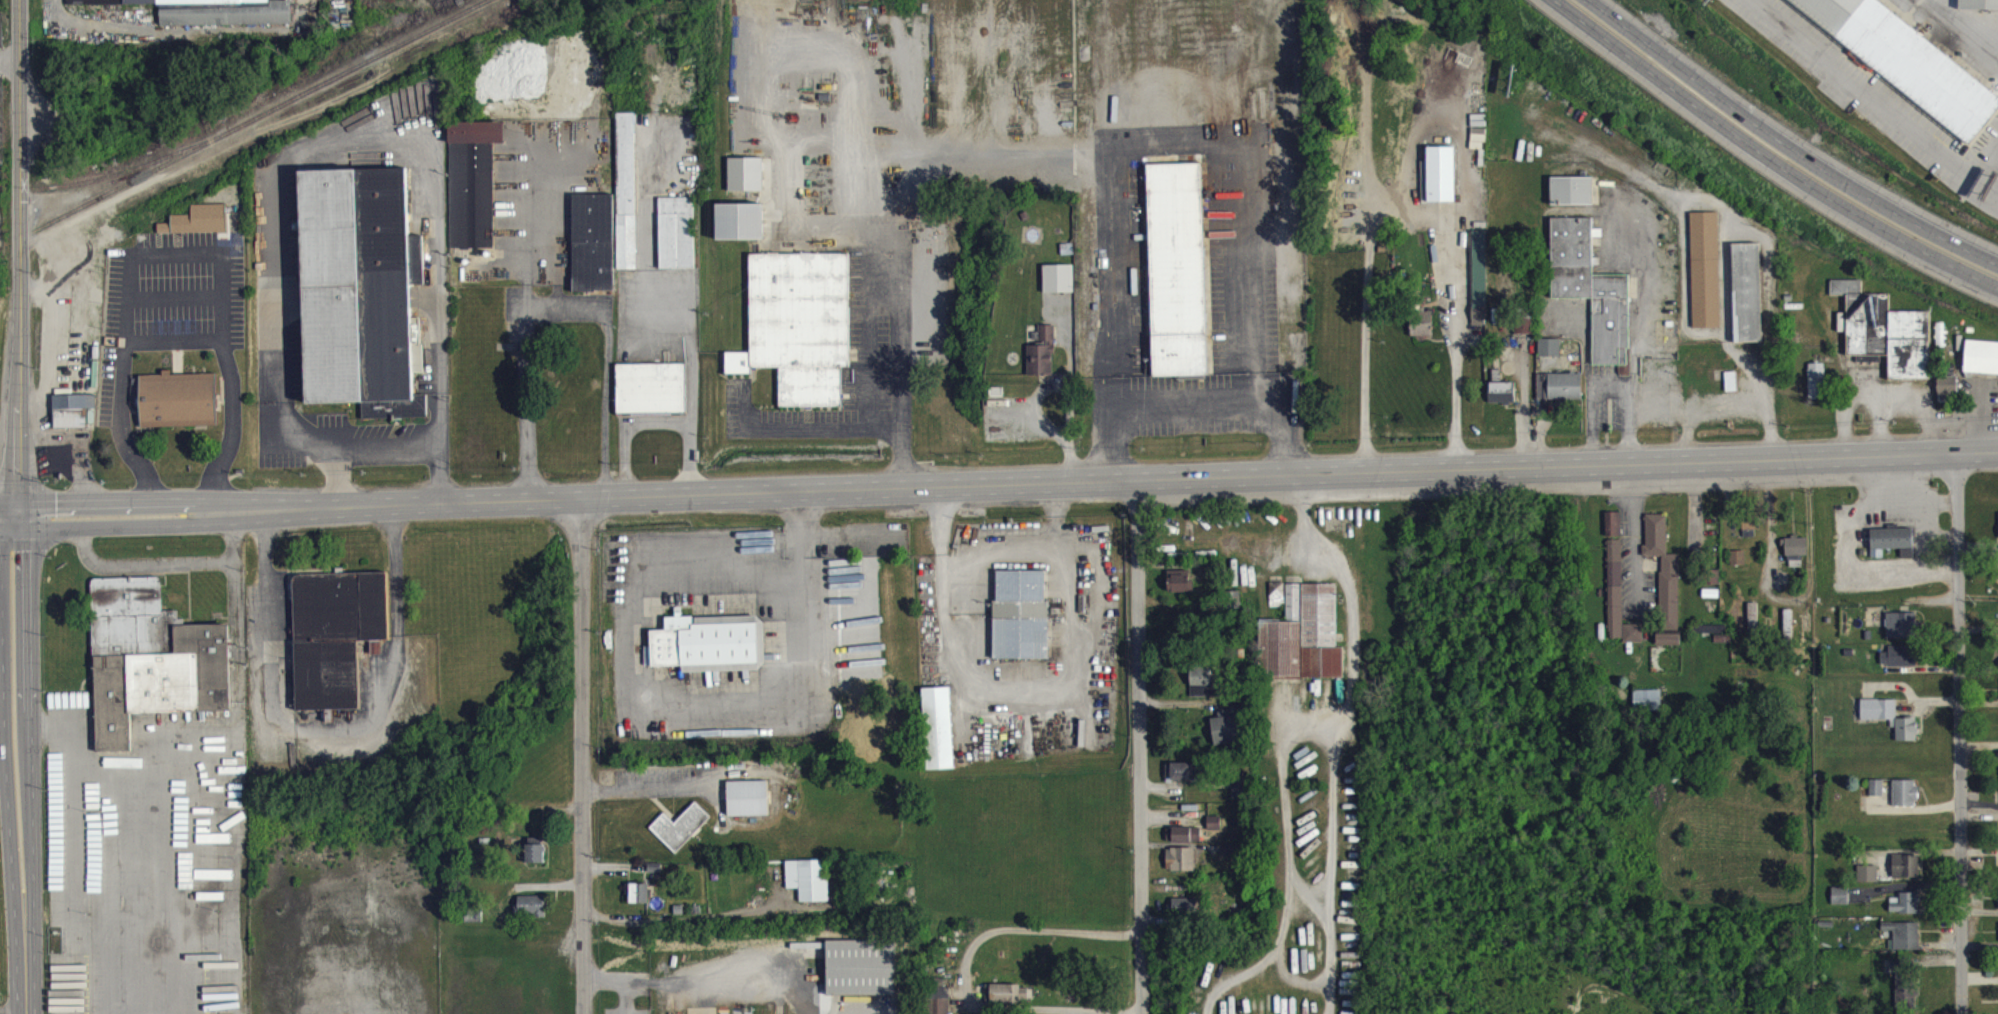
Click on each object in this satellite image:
building: (95, 6)
building: (1979, 8)
building: (216, 14)
road: (1964, 23)
road: (9, 59)
building: (1905, 66)
road: (1871, 97)
railway: (270, 119)
road: (350, 137)
road: (1785, 144)
road: (1765, 158)
railway: (135, 177)
building: (747, 182)
road: (1997, 186)
building: (474, 190)
road: (1997, 195)
railway: (5, 198)
building: (1572, 198)
building: (627, 199)
road: (1575, 208)
road: (1404, 209)
building: (198, 228)
building: (741, 229)
road: (1723, 237)
building: (678, 240)
building: (594, 250)
road: (175, 254)
railway: (1, 255)
building: (1178, 277)
building: (1706, 277)
building: (1480, 285)
building: (1059, 286)
building: (359, 288)
road: (667, 295)
building: (1593, 298)
building: (1748, 300)
road: (567, 309)
building: (1422, 331)
building: (800, 333)
building: (1886, 339)
road: (903, 351)
building: (1550, 355)
building: (1043, 361)
building: (1982, 365)
road: (1609, 386)
building: (1817, 388)
building: (1560, 393)
building: (1948, 395)
building: (652, 396)
building: (1502, 400)
road: (1726, 402)
building: (179, 408)
road: (1197, 411)
road: (1522, 411)
building: (75, 419)
road: (653, 421)
road: (1628, 425)
road: (1590, 427)
road: (1054, 434)
road: (1687, 434)
road: (846, 437)
road: (442, 444)
road: (323, 446)
road: (389, 447)
road: (999, 486)
road: (15, 506)
traffic signals: (15, 514)
building: (1751, 530)
building: (1614, 531)
road: (1637, 545)
building: (1894, 548)
building: (1796, 558)
building: (1738, 565)
road: (163, 566)
road: (990, 566)
road: (267, 575)
building: (1665, 577)
building: (1181, 589)
road: (1350, 596)
building: (1615, 596)
building: (1278, 602)
building: (1021, 623)
building: (1902, 633)
building: (1633, 641)
building: (336, 642)
building: (1305, 644)
building: (1669, 647)
building: (710, 651)
building: (151, 656)
building: (1900, 664)
building: (1204, 689)
road: (380, 699)
building: (1648, 707)
building: (1879, 717)
building: (1229, 734)
road: (1962, 734)
building: (939, 736)
road: (198, 737)
building: (1907, 737)
road: (1139, 748)
road: (580, 755)
road: (648, 790)
building: (1877, 795)
building: (1240, 796)
building: (1905, 800)
building: (750, 806)
building: (1214, 829)
building: (681, 835)
building: (1183, 842)
building: (536, 861)
building: (1181, 867)
road: (1288, 869)
road: (1329, 872)
building: (1906, 874)
road: (66, 878)
building: (1868, 881)
building: (810, 887)
road: (1309, 898)
building: (640, 901)
building: (1841, 903)
building: (1905, 911)
building: (532, 914)
building: (1185, 915)
road: (632, 920)
road: (1021, 939)
building: (1903, 943)
building: (863, 975)
road: (619, 978)
road: (1295, 978)
building: (1906, 992)
building: (1008, 1001)
building: (941, 1004)

